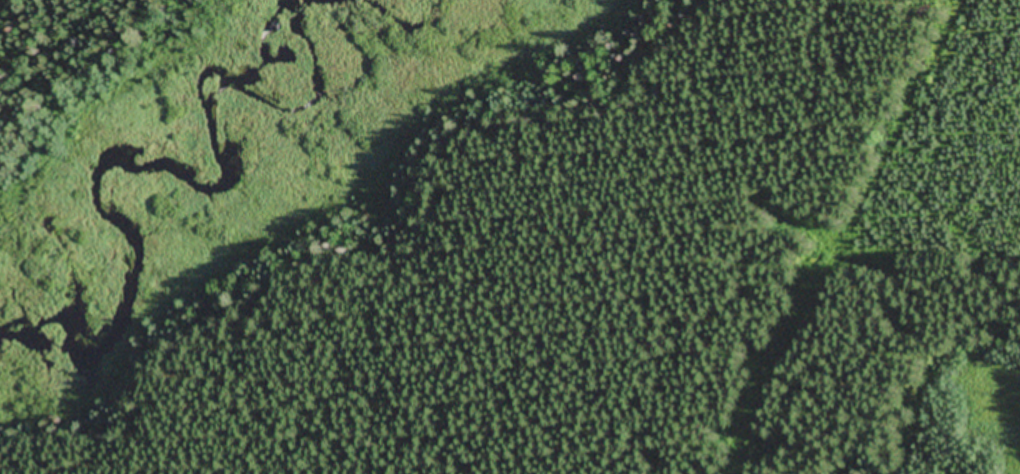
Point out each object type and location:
road: (925, 389)

